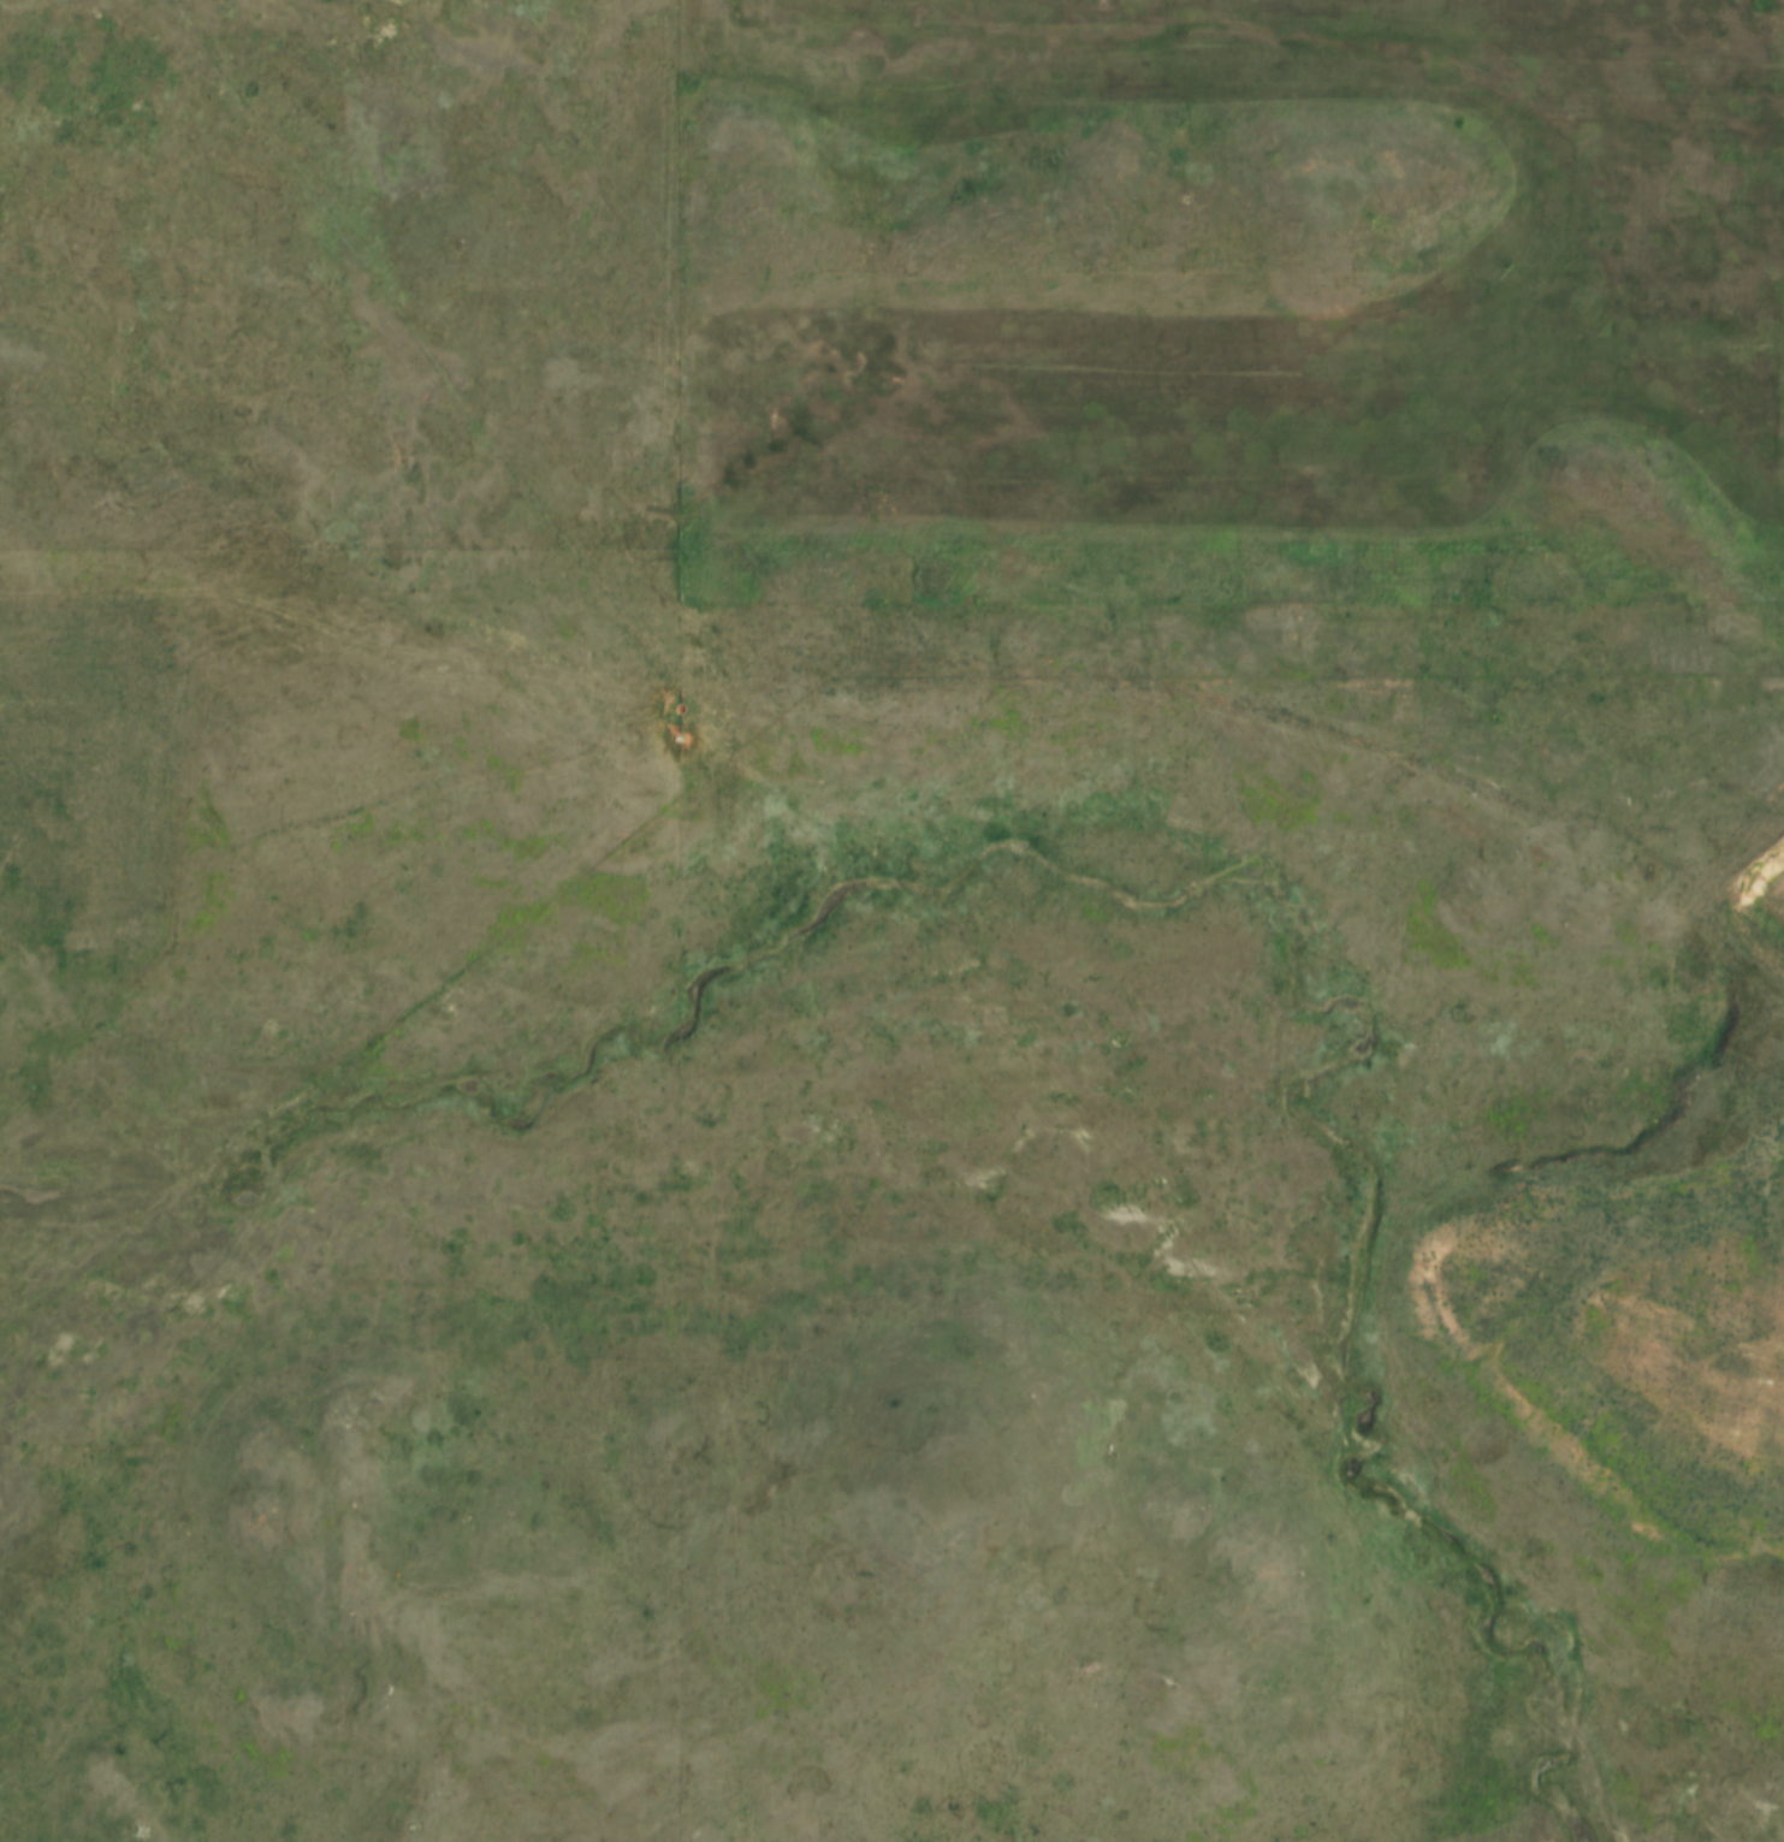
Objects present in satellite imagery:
quarry: (1756, 879)
quarry: (1783, 1175)

